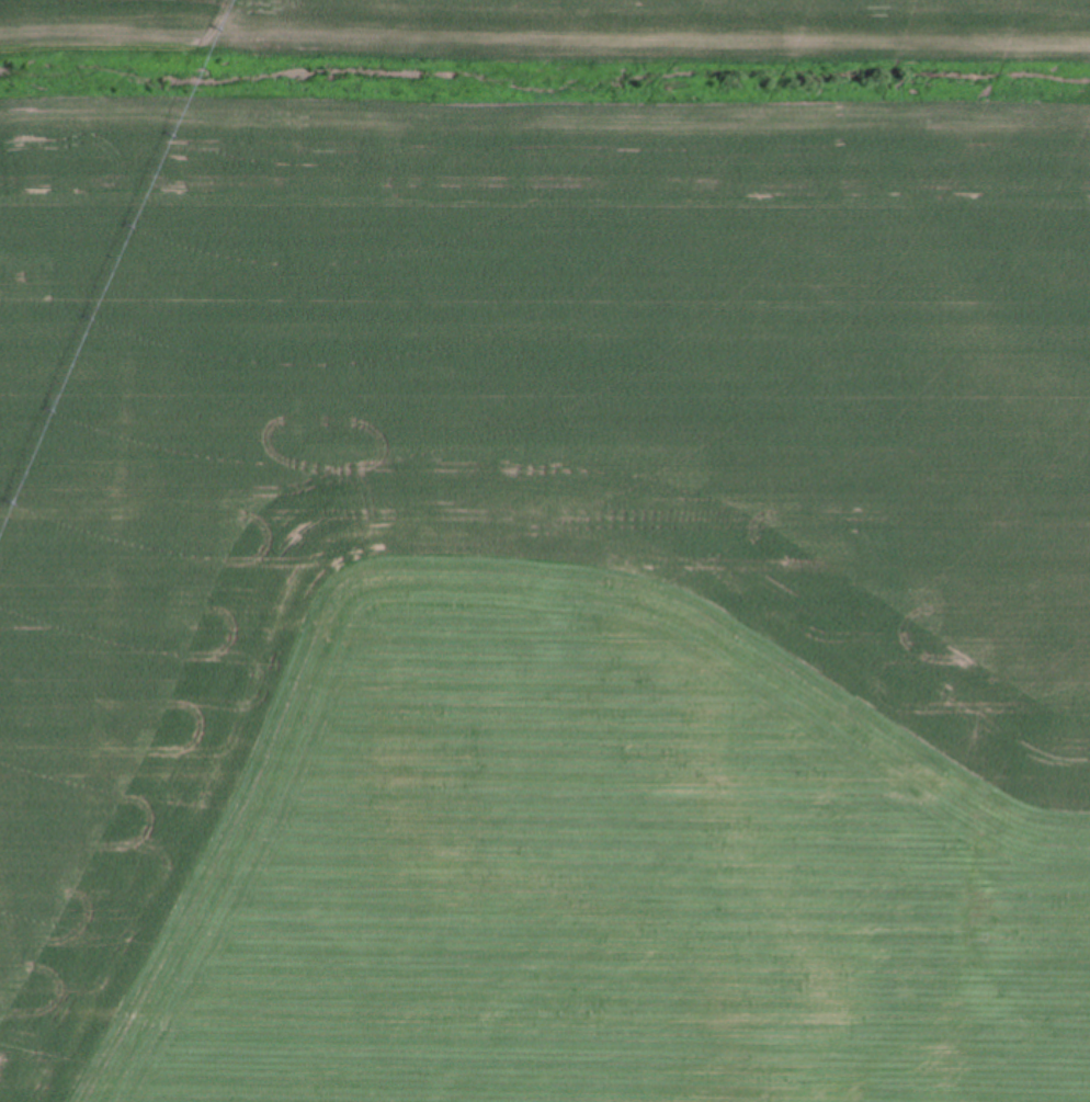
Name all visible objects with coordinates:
crop: (545, 550)

